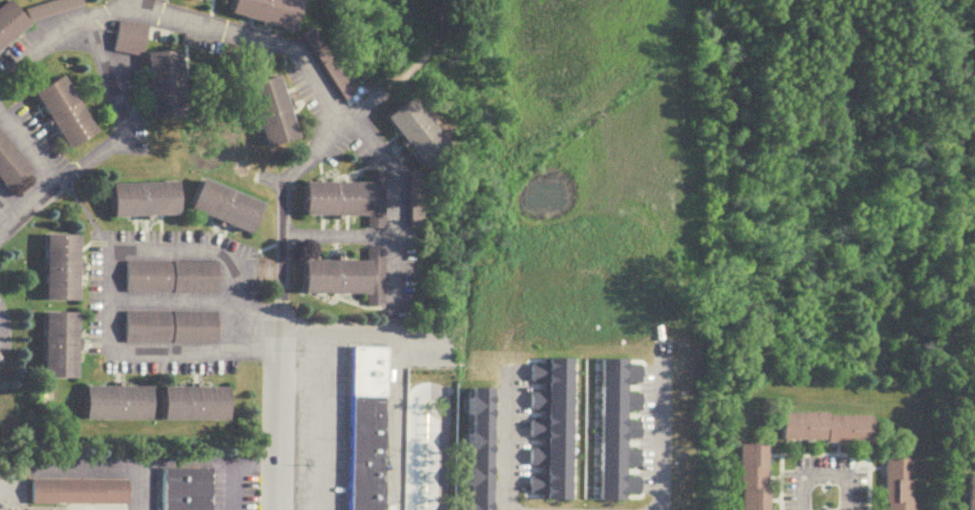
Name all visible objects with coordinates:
building: (198, 1)
building: (50, 7)
building: (264, 13)
road: (110, 17)
building: (10, 19)
building: (127, 35)
parking lot: (261, 61)
building: (326, 63)
road: (105, 68)
building: (161, 78)
park: (598, 100)
parking lot: (133, 102)
road: (334, 108)
building: (62, 110)
building: (267, 114)
building: (409, 128)
parking lot: (347, 140)
road: (29, 149)
parking lot: (26, 155)
building: (14, 163)
building: (141, 197)
building: (329, 197)
building: (374, 197)
road: (395, 197)
road: (11, 205)
building: (221, 208)
road: (29, 211)
road: (338, 234)
road: (110, 265)
building: (61, 269)
building: (374, 273)
building: (169, 274)
building: (330, 274)
parking lot: (168, 297)
building: (543, 316)
parking lot: (4, 324)
building: (167, 324)
road: (252, 329)
building: (479, 344)
building: (59, 345)
road: (318, 354)
road: (396, 361)
road: (297, 375)
road: (429, 397)
building: (116, 402)
building: (194, 402)
parking lot: (318, 414)
building: (971, 415)
road: (275, 420)
building: (540, 423)
building: (822, 425)
building: (595, 427)
parking lot: (626, 427)
building: (367, 428)
parking lot: (497, 430)
parking lot: (971, 433)
road: (650, 441)
road: (495, 442)
road: (317, 443)
road: (806, 444)
road: (836, 444)
building: (463, 447)
road: (822, 447)
road: (772, 454)
road: (874, 466)
road: (83, 474)
road: (821, 474)
building: (750, 476)
road: (255, 477)
parking lot: (822, 480)
building: (895, 483)
building: (186, 489)
parking lot: (235, 490)
building: (969, 492)
building: (73, 494)
road: (236, 494)
road: (771, 496)
road: (874, 503)

